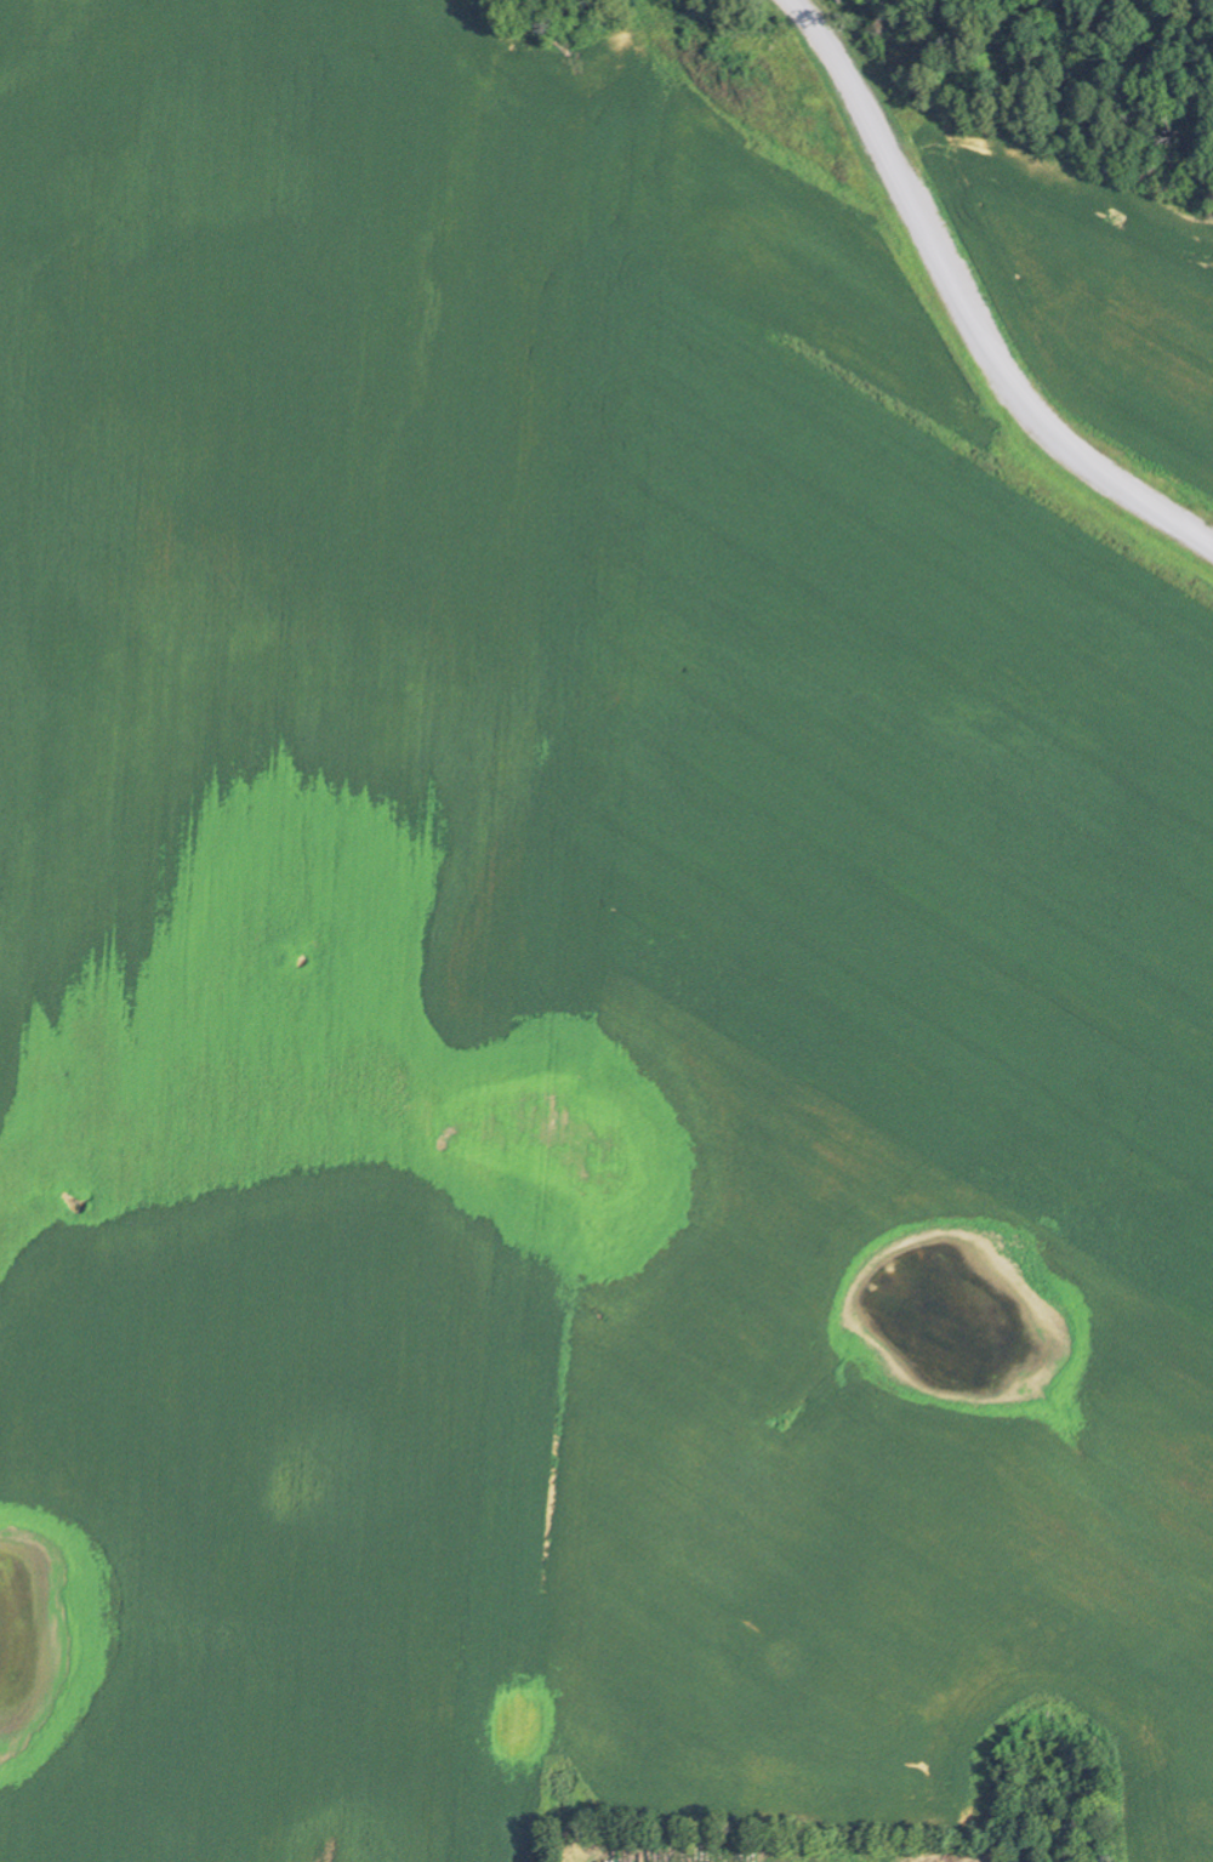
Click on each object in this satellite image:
road: (967, 301)

